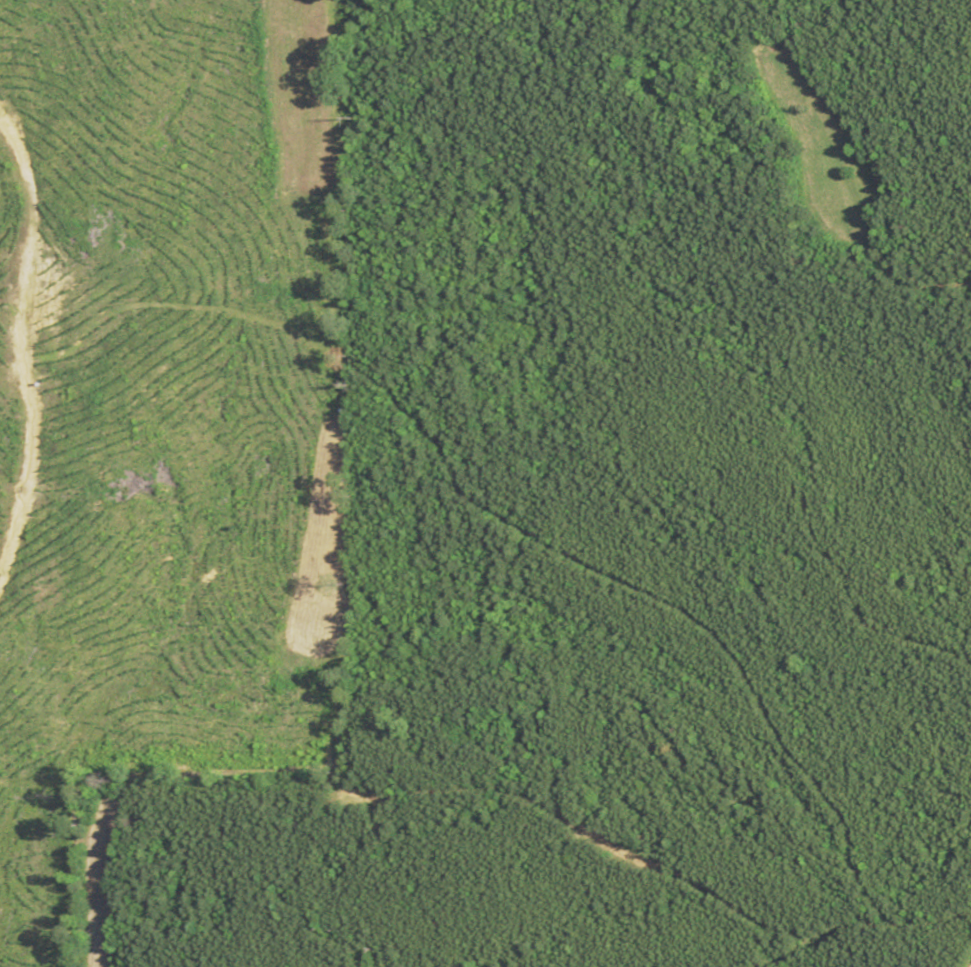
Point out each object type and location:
road: (957, 953)

